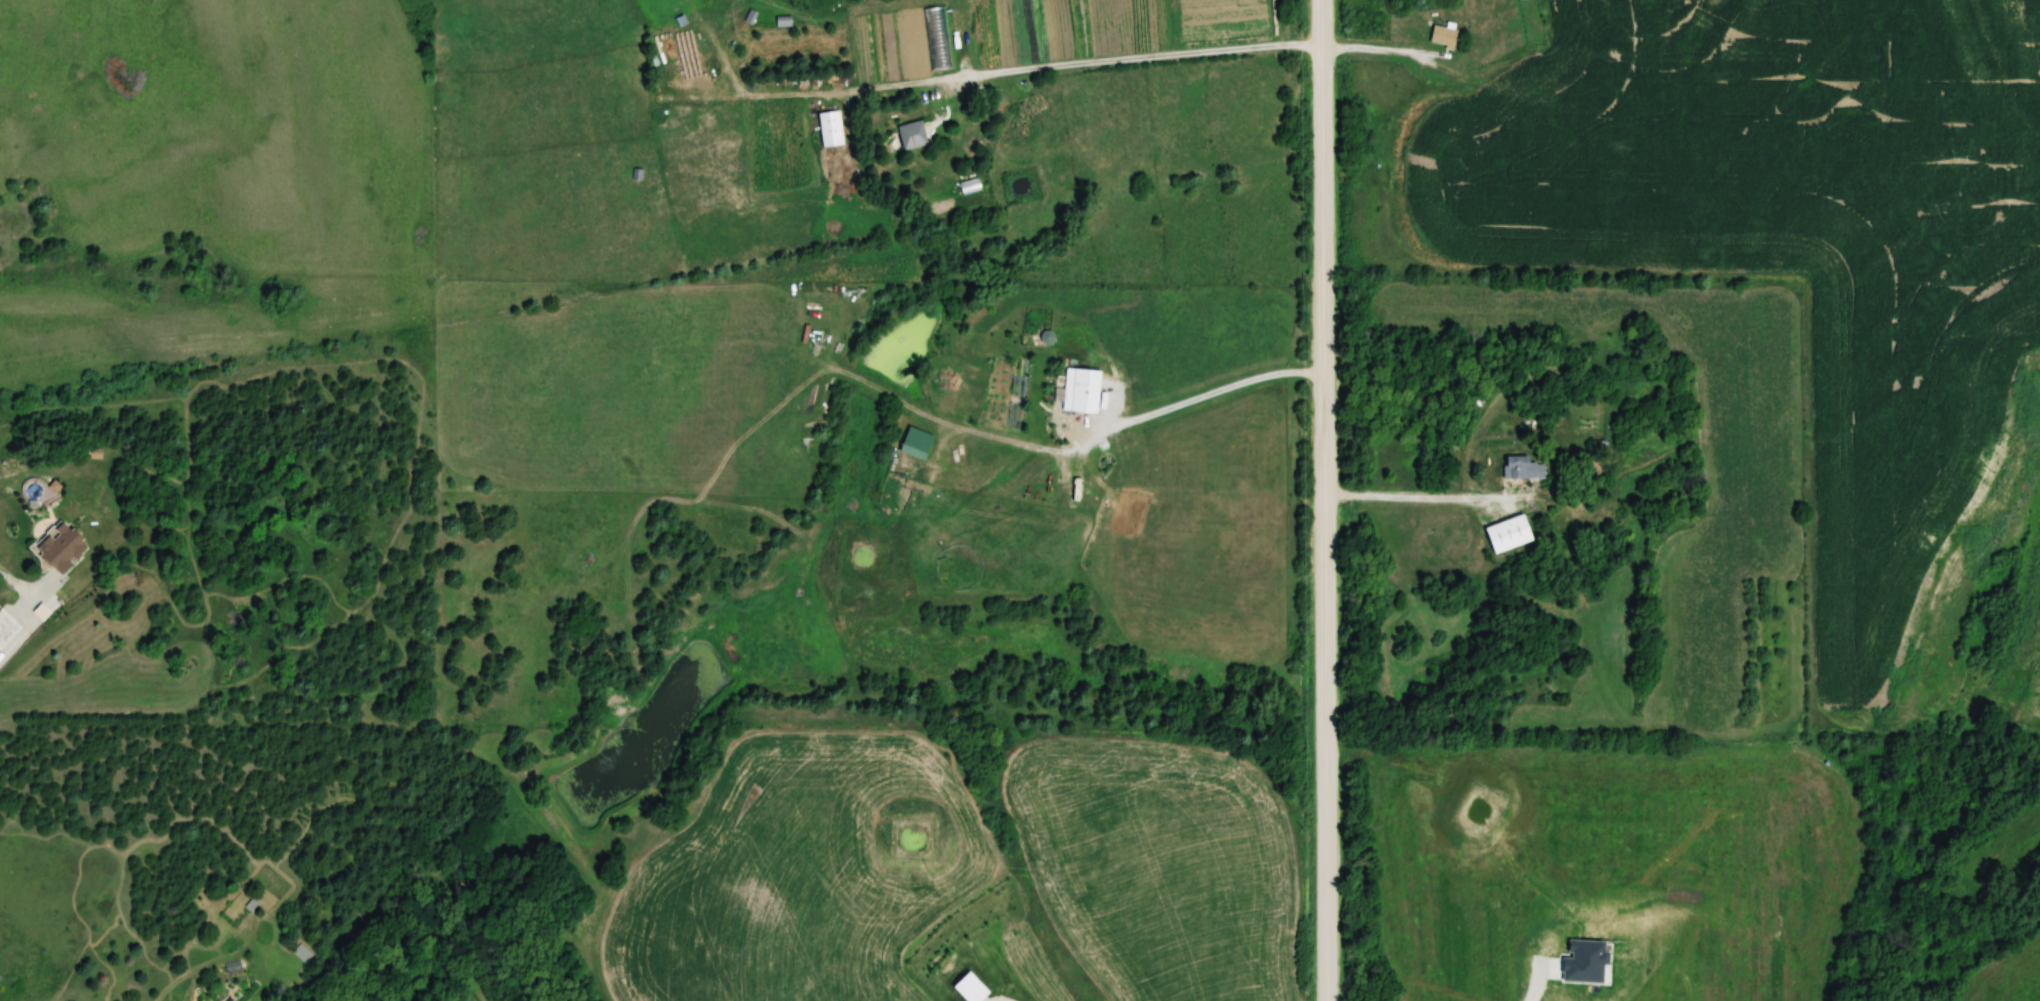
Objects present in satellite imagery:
building: (1442, 36)
road: (1385, 50)
road: (988, 75)
building: (981, 101)
building: (910, 136)
building: (1079, 392)
road: (1205, 396)
building: (1521, 469)
road: (1426, 499)
road: (1326, 500)
building: (1506, 535)
building: (61, 547)
road: (16, 585)
building: (8, 628)
road: (1539, 980)

